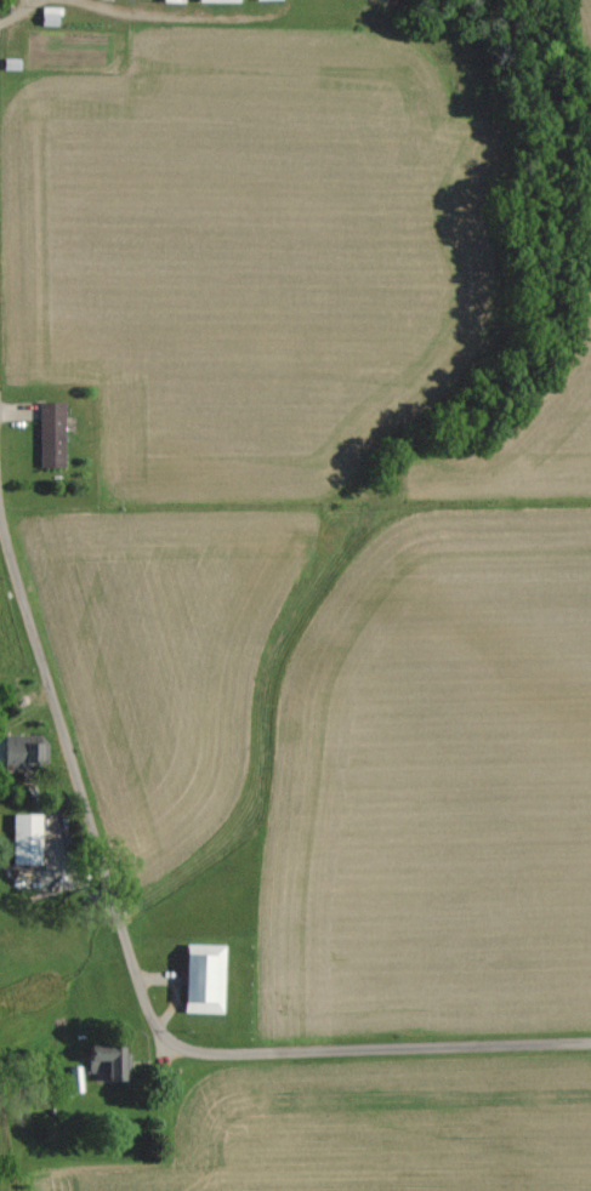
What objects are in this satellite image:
building: (174, 0)
building: (218, 0)
building: (258, 0)
road: (19, 12)
building: (50, 16)
road: (170, 17)
building: (52, 434)
building: (23, 753)
building: (25, 839)
road: (127, 953)
building: (204, 979)
building: (108, 1061)
building: (74, 1079)

